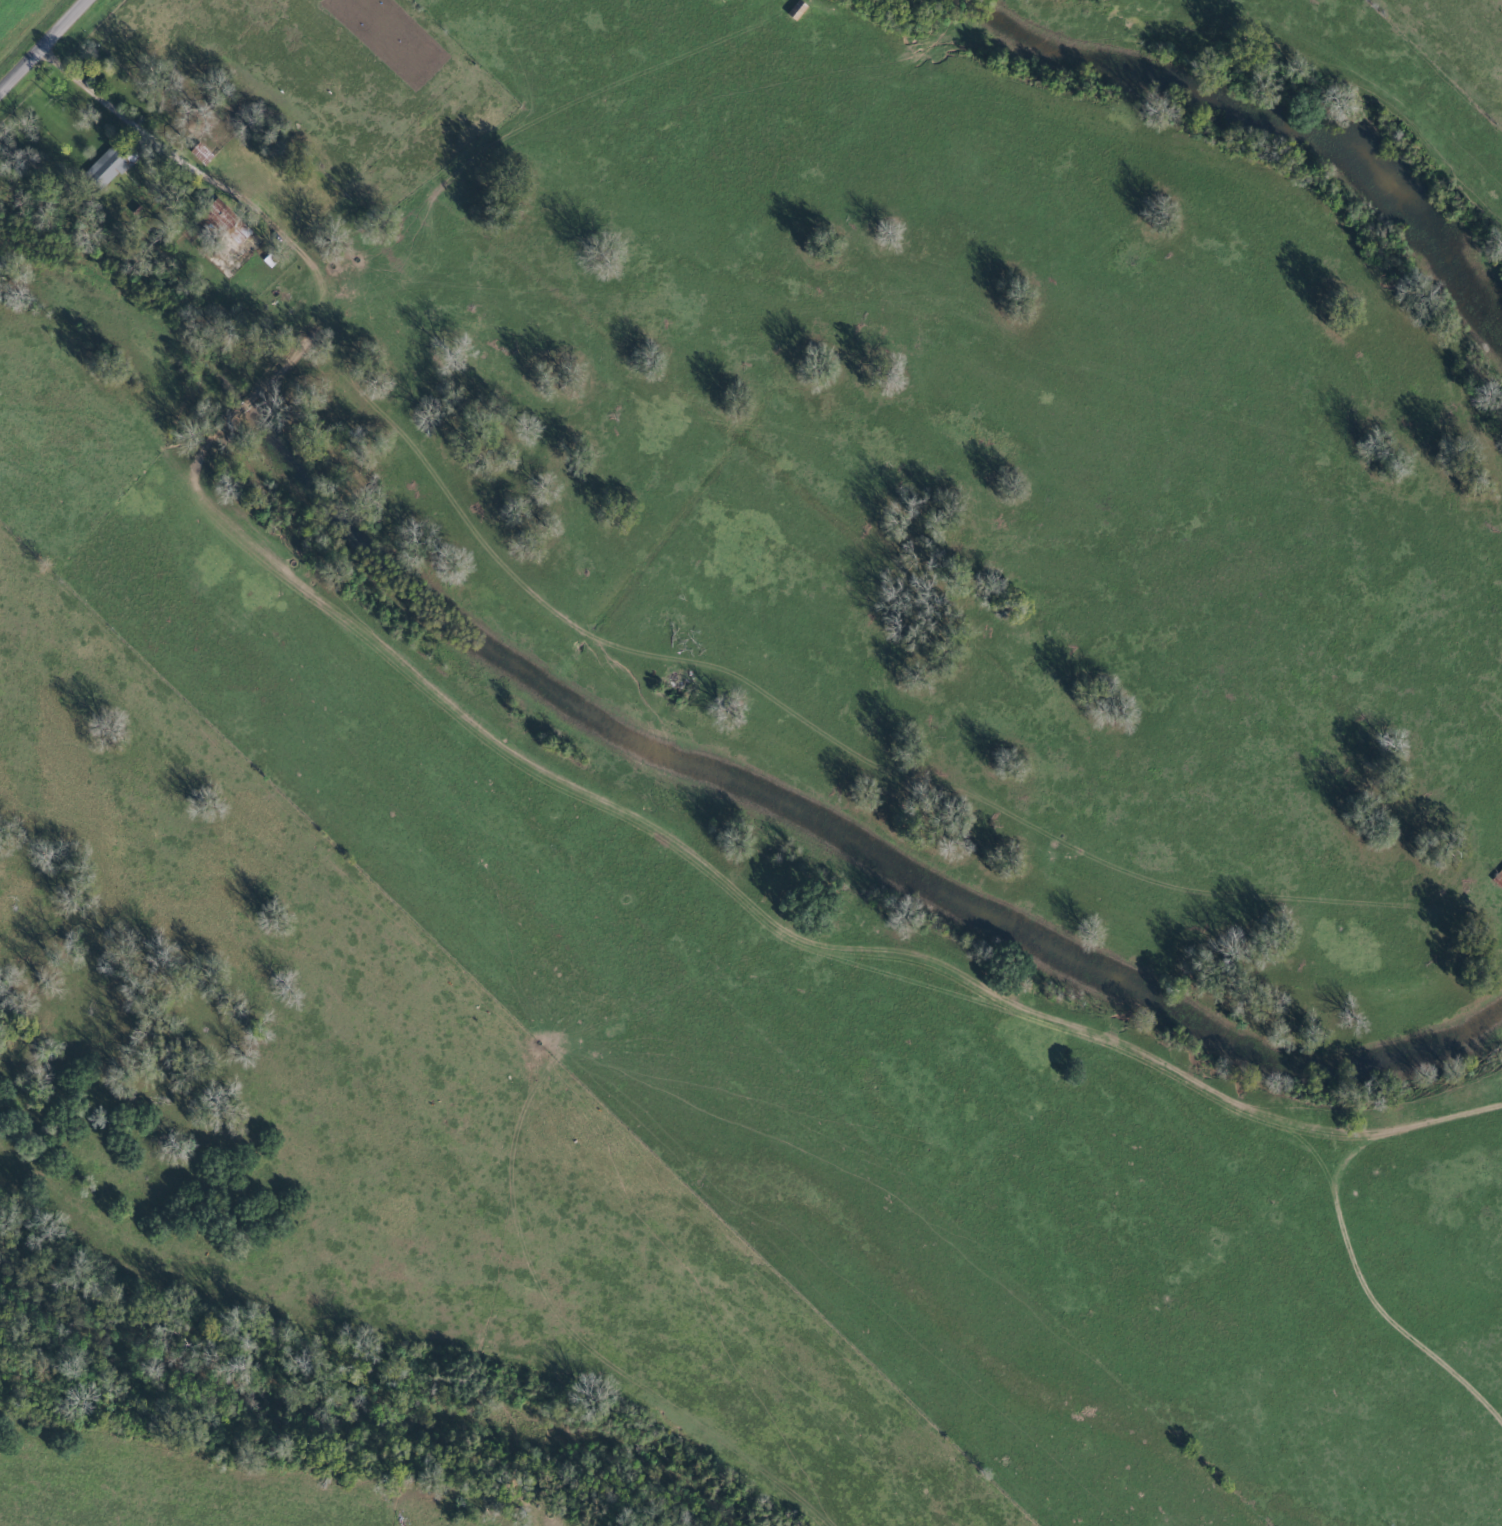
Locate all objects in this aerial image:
road: (37, 38)
road: (77, 81)
building: (108, 166)
building: (229, 218)

